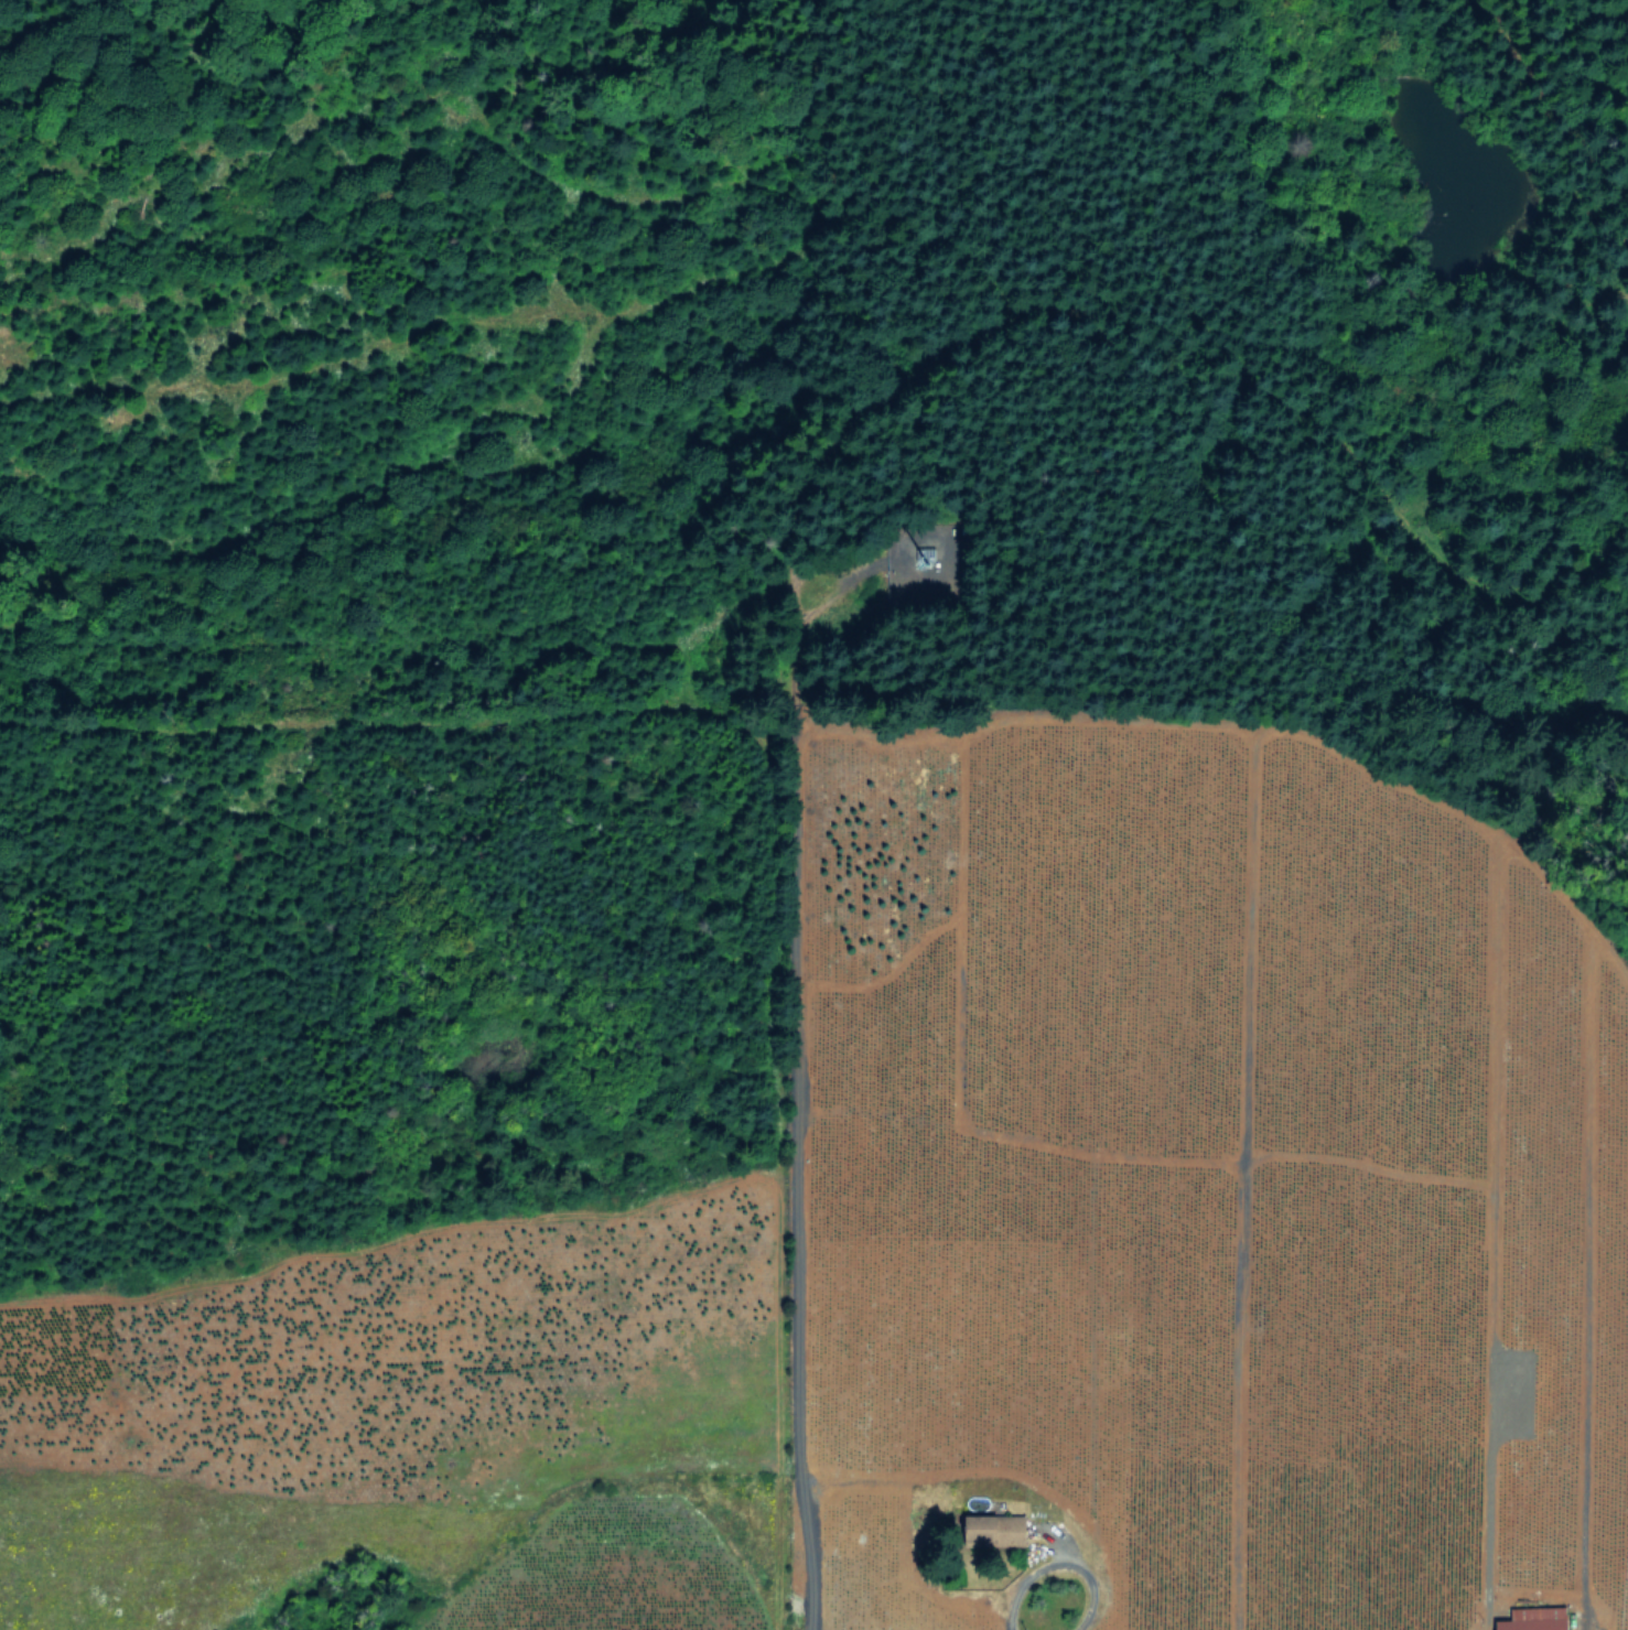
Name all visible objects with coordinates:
road: (446, 1362)
building: (1001, 1529)
road: (1055, 1559)
building: (1539, 1618)

